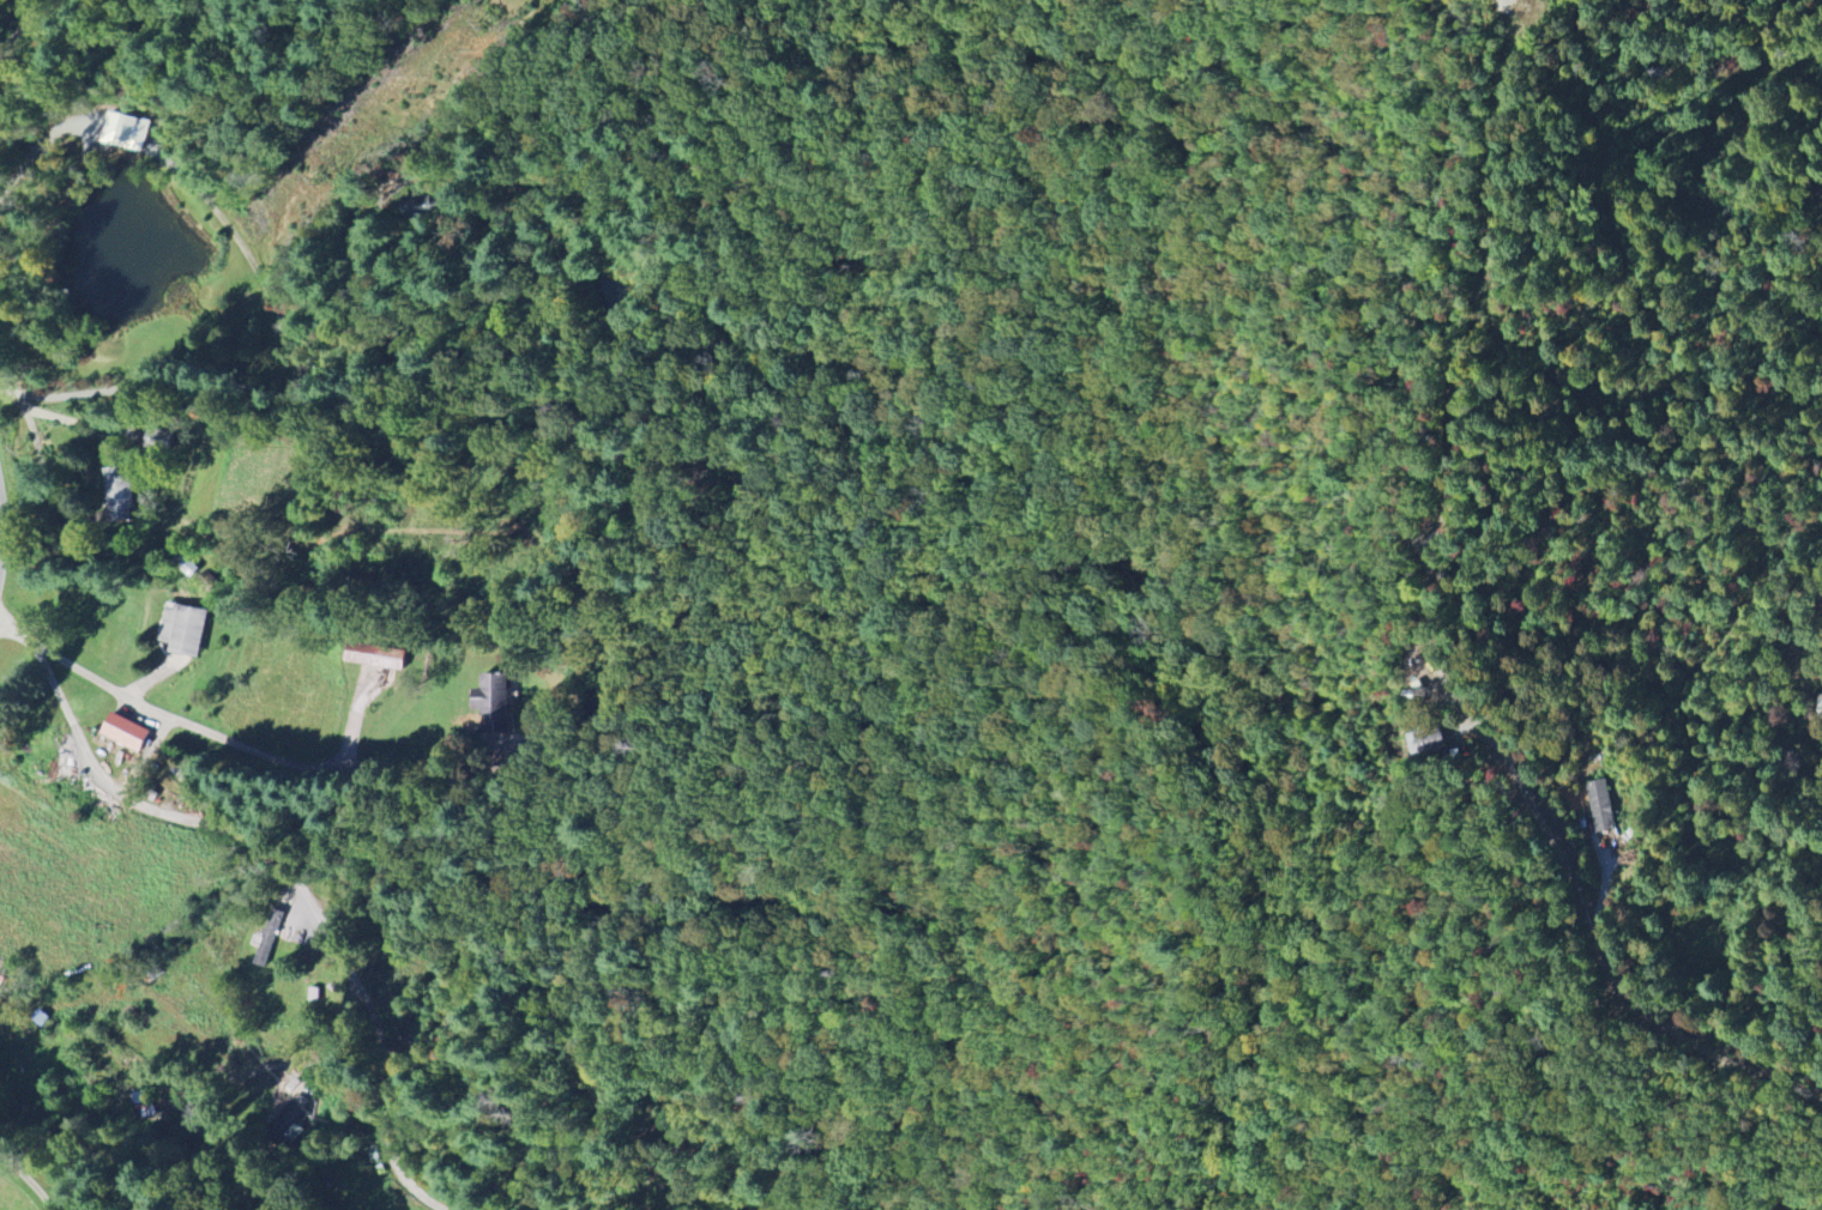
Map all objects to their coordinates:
road: (23, 31)
road: (1724, 92)
building: (127, 131)
road: (38, 145)
building: (424, 206)
road: (1468, 329)
road: (228, 365)
road: (54, 406)
building: (159, 440)
building: (119, 496)
road: (0, 539)
building: (183, 629)
building: (375, 655)
building: (491, 703)
building: (123, 732)
road: (225, 737)
building: (1426, 740)
building: (1600, 805)
road: (298, 887)
road: (1587, 922)
building: (269, 938)
road: (203, 1082)
building: (291, 1120)
road: (32, 1188)

